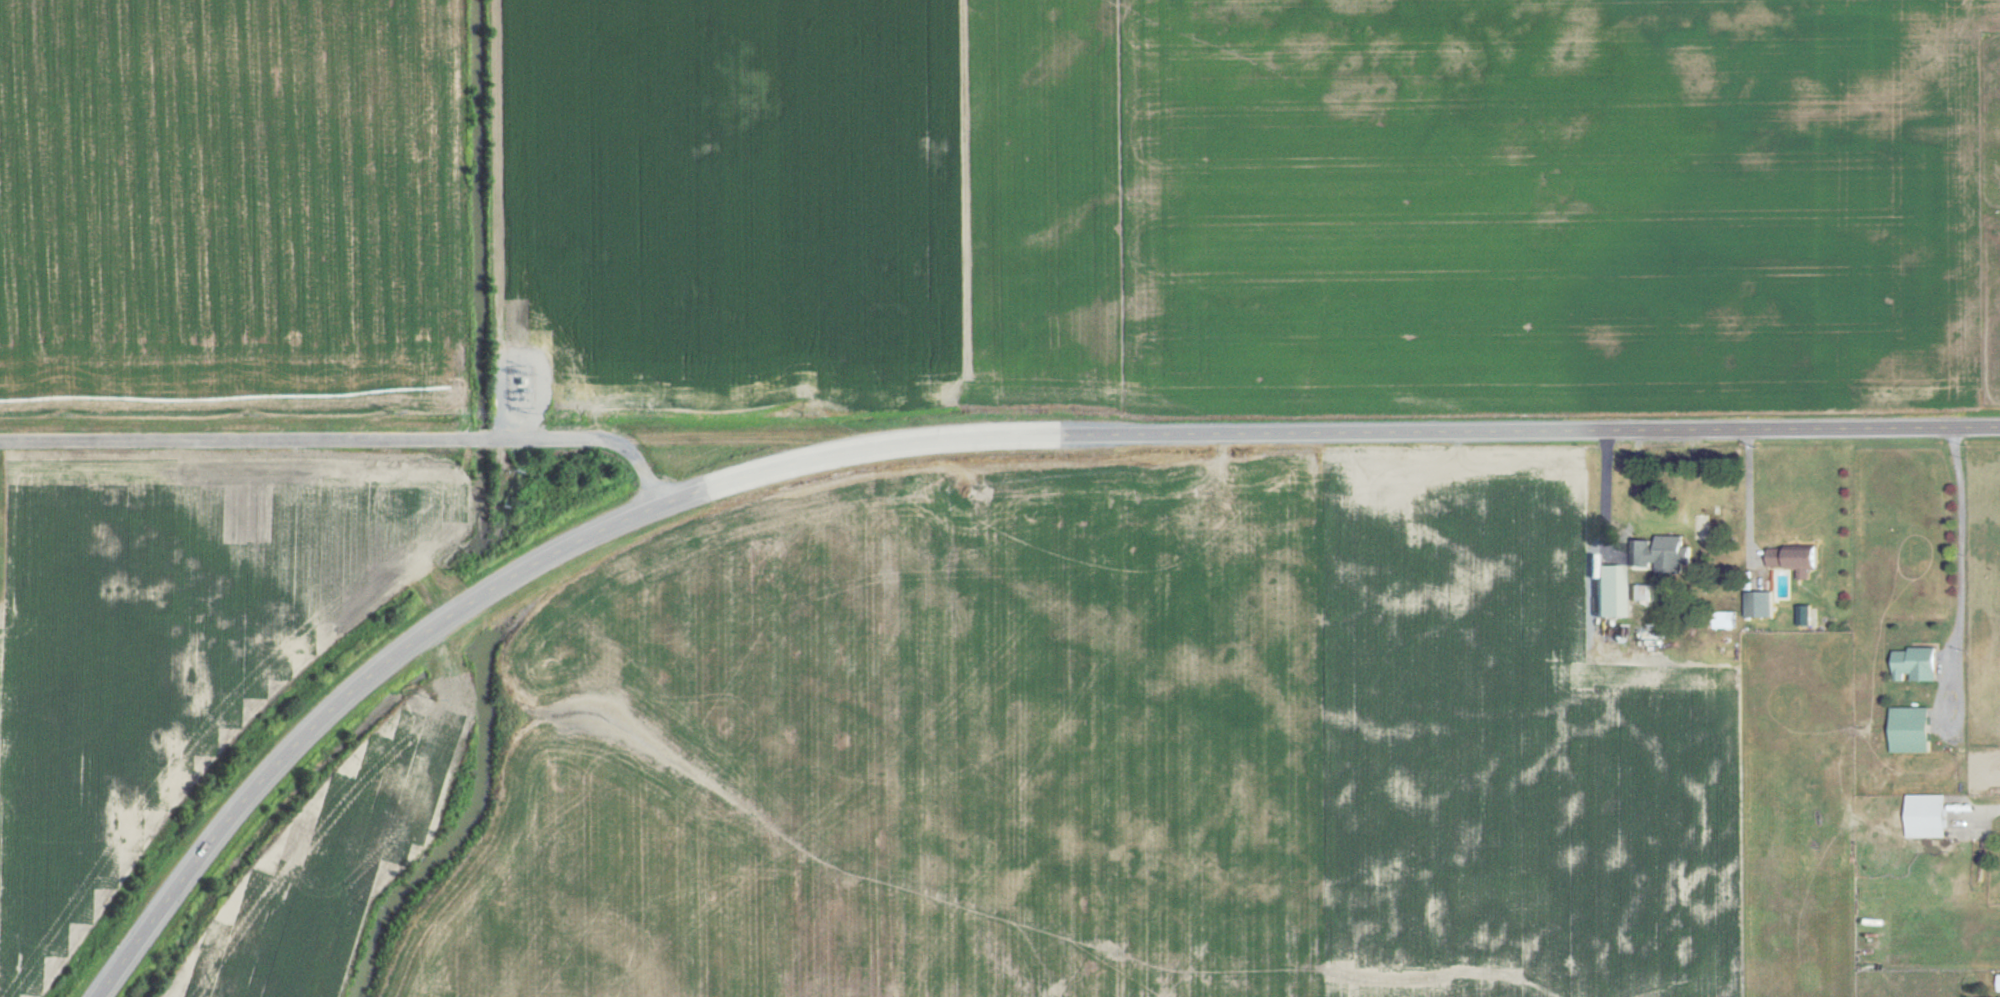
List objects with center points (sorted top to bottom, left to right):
road: (349, 439)
road: (947, 440)
road: (575, 478)
road: (1605, 492)
road: (1750, 496)
park: (1, 543)
building: (1666, 553)
building: (1799, 560)
building: (1612, 590)
building: (1639, 592)
building: (1762, 604)
building: (1807, 615)
road: (1963, 634)
building: (1919, 664)
building: (1915, 730)
building: (1931, 816)

